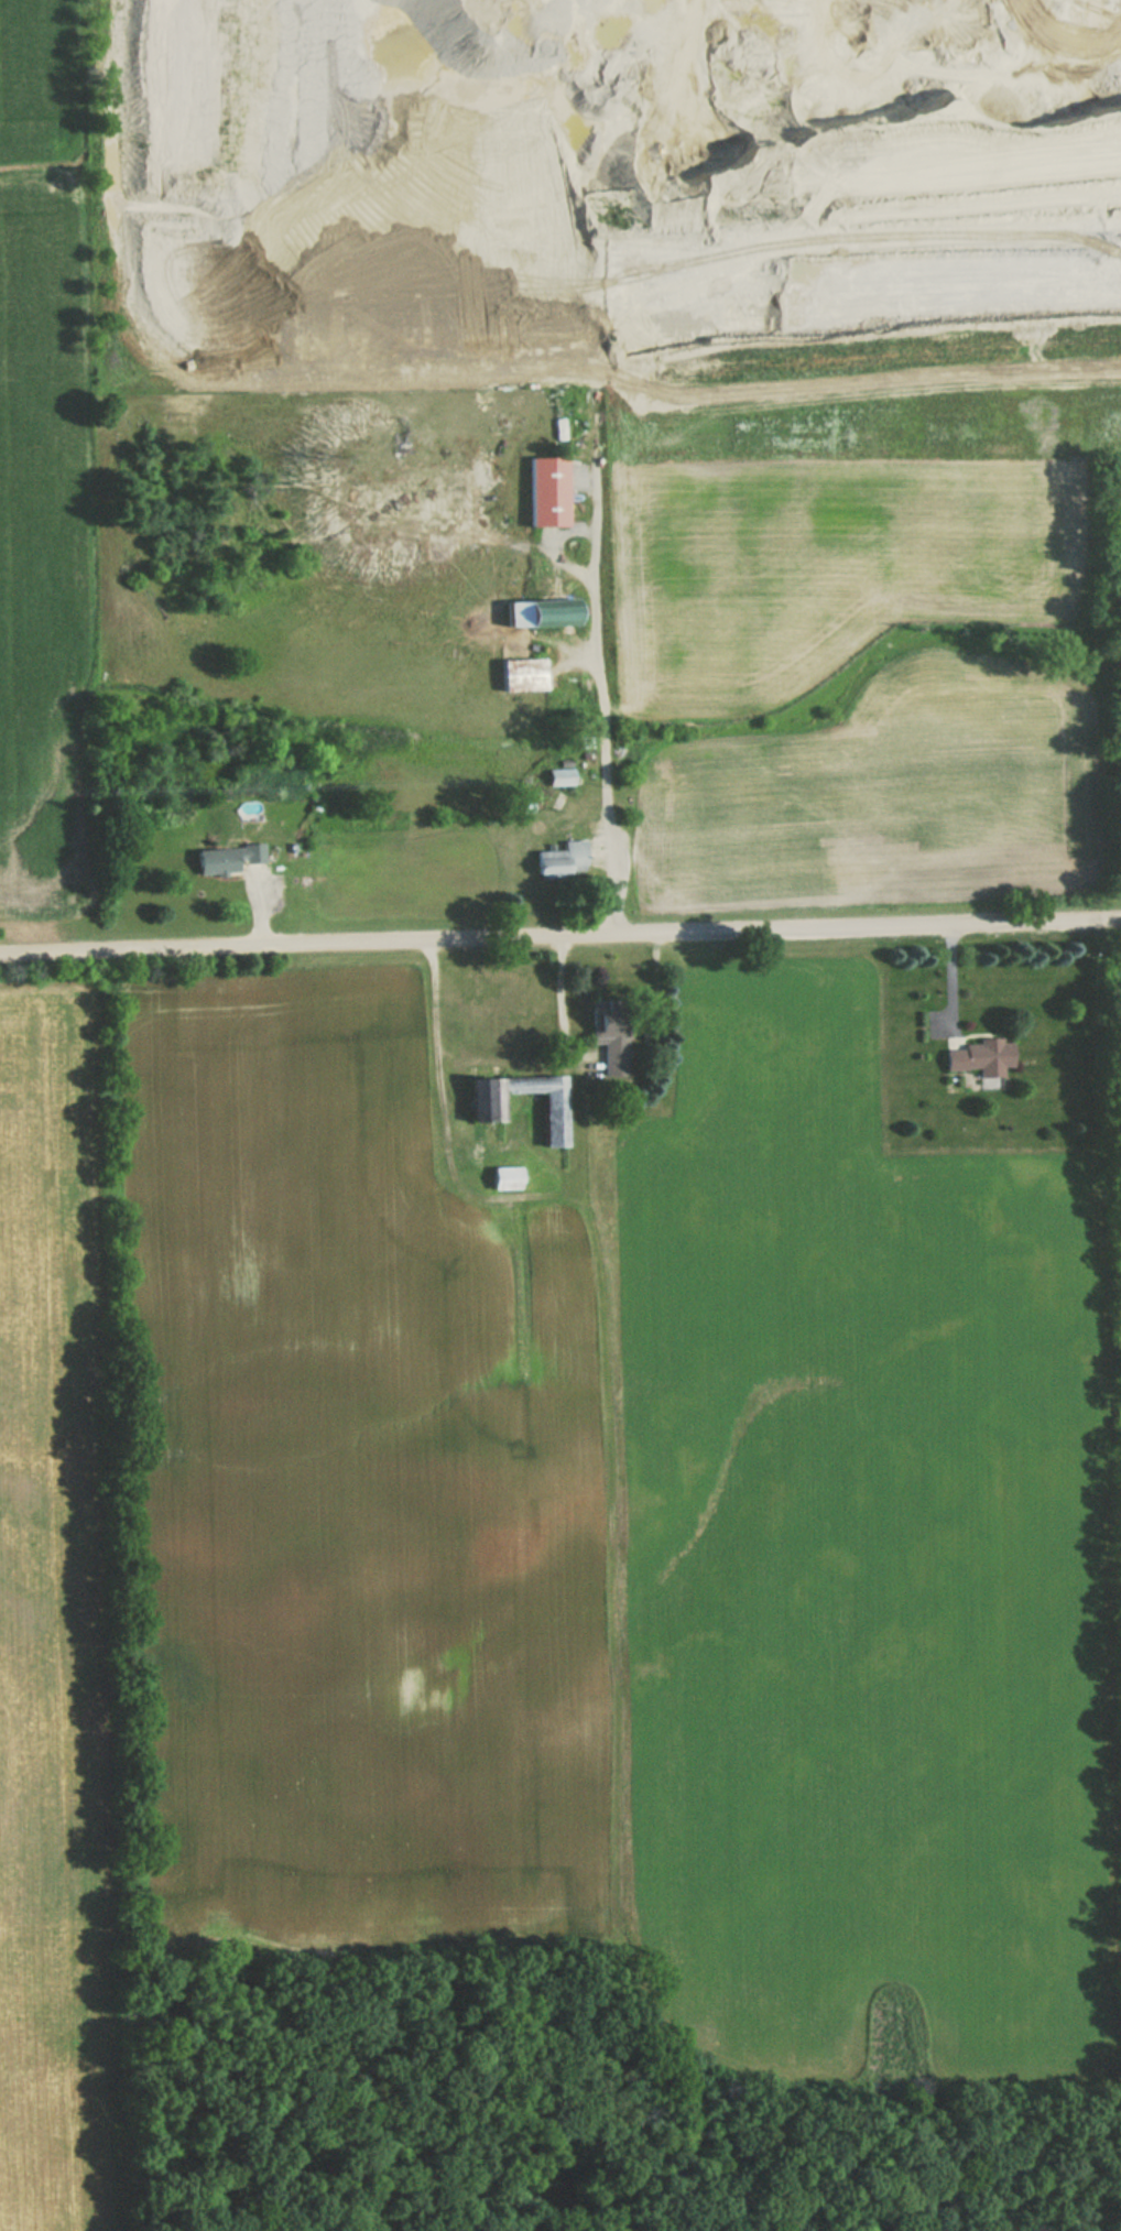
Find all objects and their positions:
quarry: (613, 202)
building: (547, 491)
building: (542, 614)
building: (522, 675)
road: (601, 700)
building: (560, 777)
building: (224, 859)
building: (562, 860)
road: (559, 936)
building: (610, 1036)
building: (982, 1060)
building: (485, 1108)
building: (507, 1177)

